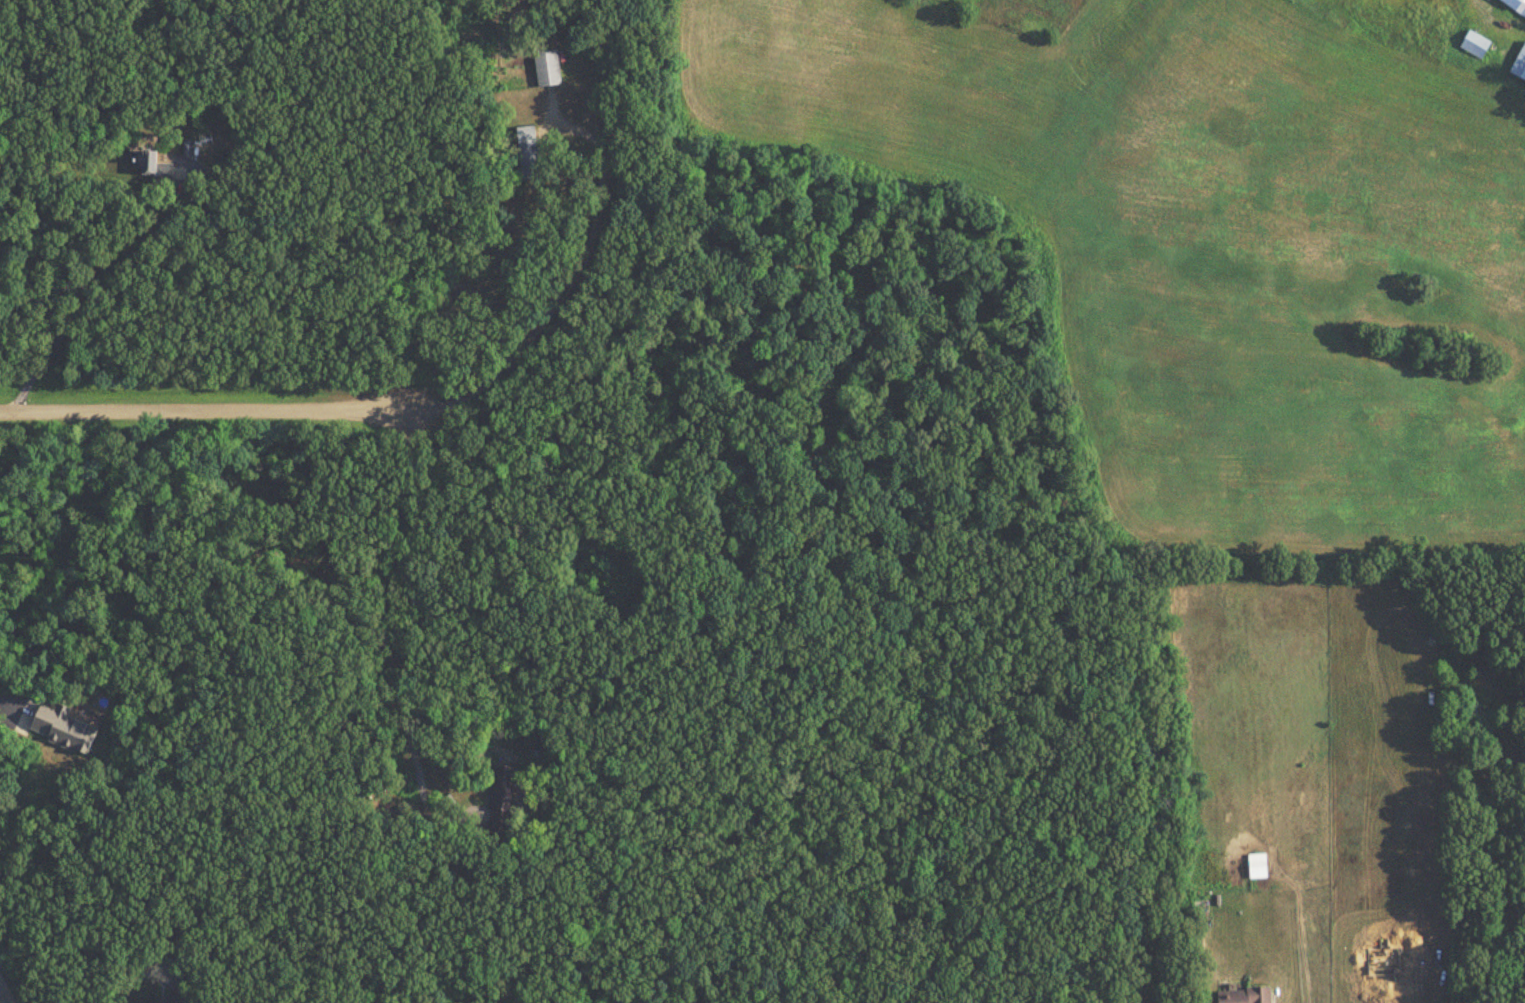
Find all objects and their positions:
building: (1515, 6)
building: (1519, 64)
building: (545, 68)
building: (526, 153)
building: (151, 168)
road: (126, 282)
road: (565, 286)
road: (204, 410)
road: (395, 628)
road: (7, 703)
building: (61, 729)
building: (503, 802)
building: (1255, 862)
road: (107, 965)
building: (1242, 996)
road: (1, 998)
building: (158, 1001)

